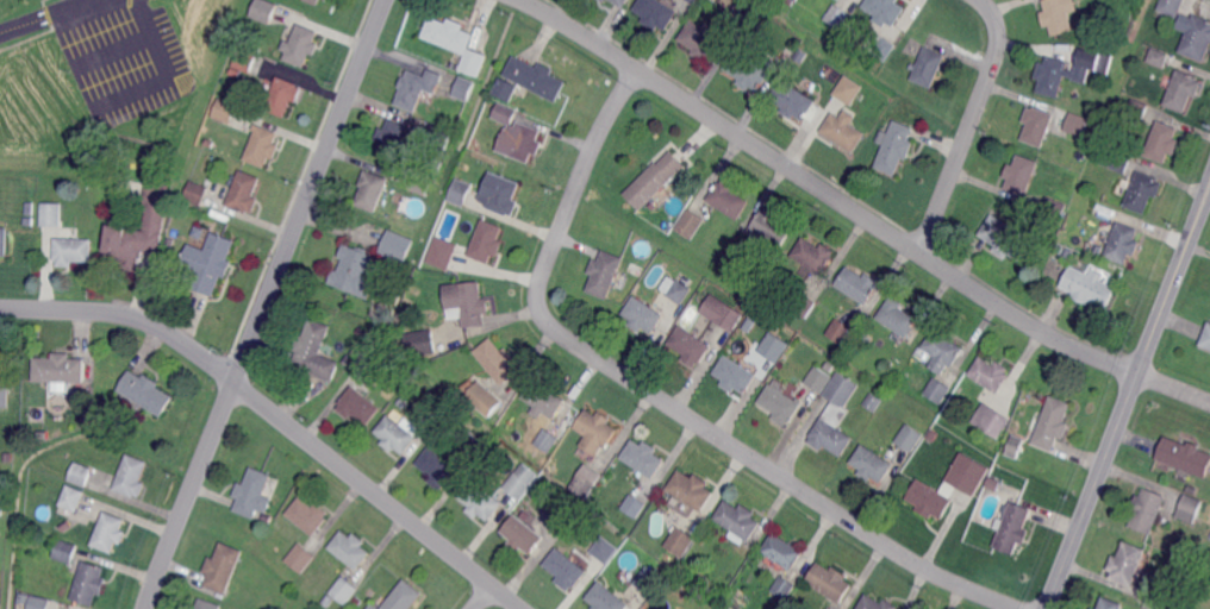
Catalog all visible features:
building: (604, 0)
building: (797, 0)
building: (842, 0)
building: (313, 1)
building: (693, 1)
building: (717, 1)
building: (622, 2)
building: (1172, 6)
building: (264, 10)
building: (885, 11)
building: (657, 13)
road: (44, 14)
building: (741, 15)
building: (838, 15)
building: (1059, 15)
building: (448, 33)
building: (1198, 38)
building: (703, 39)
building: (302, 45)
building: (885, 49)
road: (110, 50)
building: (1159, 58)
building: (245, 59)
building: (476, 64)
building: (929, 67)
building: (750, 68)
building: (1066, 73)
road: (167, 76)
building: (537, 77)
building: (418, 87)
building: (463, 89)
building: (506, 89)
building: (849, 89)
building: (1184, 89)
building: (283, 95)
building: (794, 101)
building: (225, 109)
building: (1139, 109)
building: (506, 113)
building: (1078, 124)
road: (969, 125)
building: (1039, 125)
building: (844, 130)
building: (884, 134)
building: (437, 137)
building: (392, 138)
building: (526, 142)
building: (1164, 142)
building: (263, 145)
building: (896, 149)
building: (1117, 159)
building: (422, 170)
building: (1022, 174)
building: (655, 180)
building: (420, 186)
building: (372, 189)
building: (197, 192)
building: (244, 192)
building: (461, 192)
building: (1144, 192)
building: (500, 193)
building: (728, 200)
building: (156, 205)
building: (27, 208)
building: (1055, 209)
road: (857, 212)
building: (51, 214)
building: (29, 220)
building: (691, 222)
building: (772, 226)
building: (1006, 238)
building: (4, 240)
building: (487, 240)
building: (1124, 243)
building: (131, 245)
building: (398, 245)
building: (73, 250)
building: (443, 252)
building: (815, 255)
building: (210, 262)
building: (636, 266)
building: (355, 271)
building: (605, 274)
building: (859, 284)
building: (1090, 288)
building: (414, 291)
building: (679, 291)
building: (703, 294)
building: (466, 302)
road: (264, 303)
building: (803, 304)
building: (722, 313)
building: (642, 314)
building: (403, 316)
building: (898, 318)
building: (748, 325)
building: (361, 331)
building: (844, 333)
building: (1206, 339)
building: (419, 344)
building: (690, 345)
building: (774, 346)
building: (943, 350)
building: (314, 351)
building: (372, 356)
building: (497, 360)
building: (60, 369)
building: (991, 373)
building: (735, 375)
building: (819, 378)
building: (842, 389)
building: (938, 390)
building: (145, 391)
building: (5, 396)
building: (482, 398)
building: (544, 398)
road: (662, 398)
road: (1128, 398)
building: (873, 401)
building: (401, 403)
building: (358, 404)
building: (780, 404)
road: (276, 416)
building: (498, 416)
building: (991, 421)
building: (1054, 423)
building: (597, 431)
building: (397, 434)
building: (933, 434)
building: (831, 438)
building: (910, 438)
building: (548, 439)
building: (1013, 446)
building: (475, 447)
building: (1186, 456)
building: (643, 457)
building: (871, 464)
building: (437, 467)
building: (81, 473)
building: (969, 473)
building: (132, 476)
building: (586, 482)
building: (993, 484)
building: (518, 485)
building: (1193, 488)
building: (692, 489)
building: (252, 491)
building: (71, 497)
building: (930, 500)
building: (480, 501)
building: (1, 504)
building: (635, 506)
building: (1191, 508)
building: (1148, 509)
building: (308, 515)
building: (562, 516)
building: (736, 520)
building: (1015, 527)
building: (110, 532)
building: (523, 534)
building: (701, 539)
building: (680, 541)
building: (349, 548)
building: (605, 550)
building: (782, 551)
building: (64, 552)
building: (301, 557)
building: (1128, 563)
building: (223, 567)
building: (566, 569)
building: (649, 579)
building: (830, 582)
building: (91, 583)
building: (785, 586)
building: (345, 590)
building: (404, 596)
road: (482, 597)
building: (23, 598)
building: (606, 598)
building: (1158, 598)
building: (38, 603)
building: (1110, 603)
building: (208, 604)
building: (877, 604)
building: (1172, 607)
building: (374, 608)
building: (825, 608)
building: (1094, 608)

